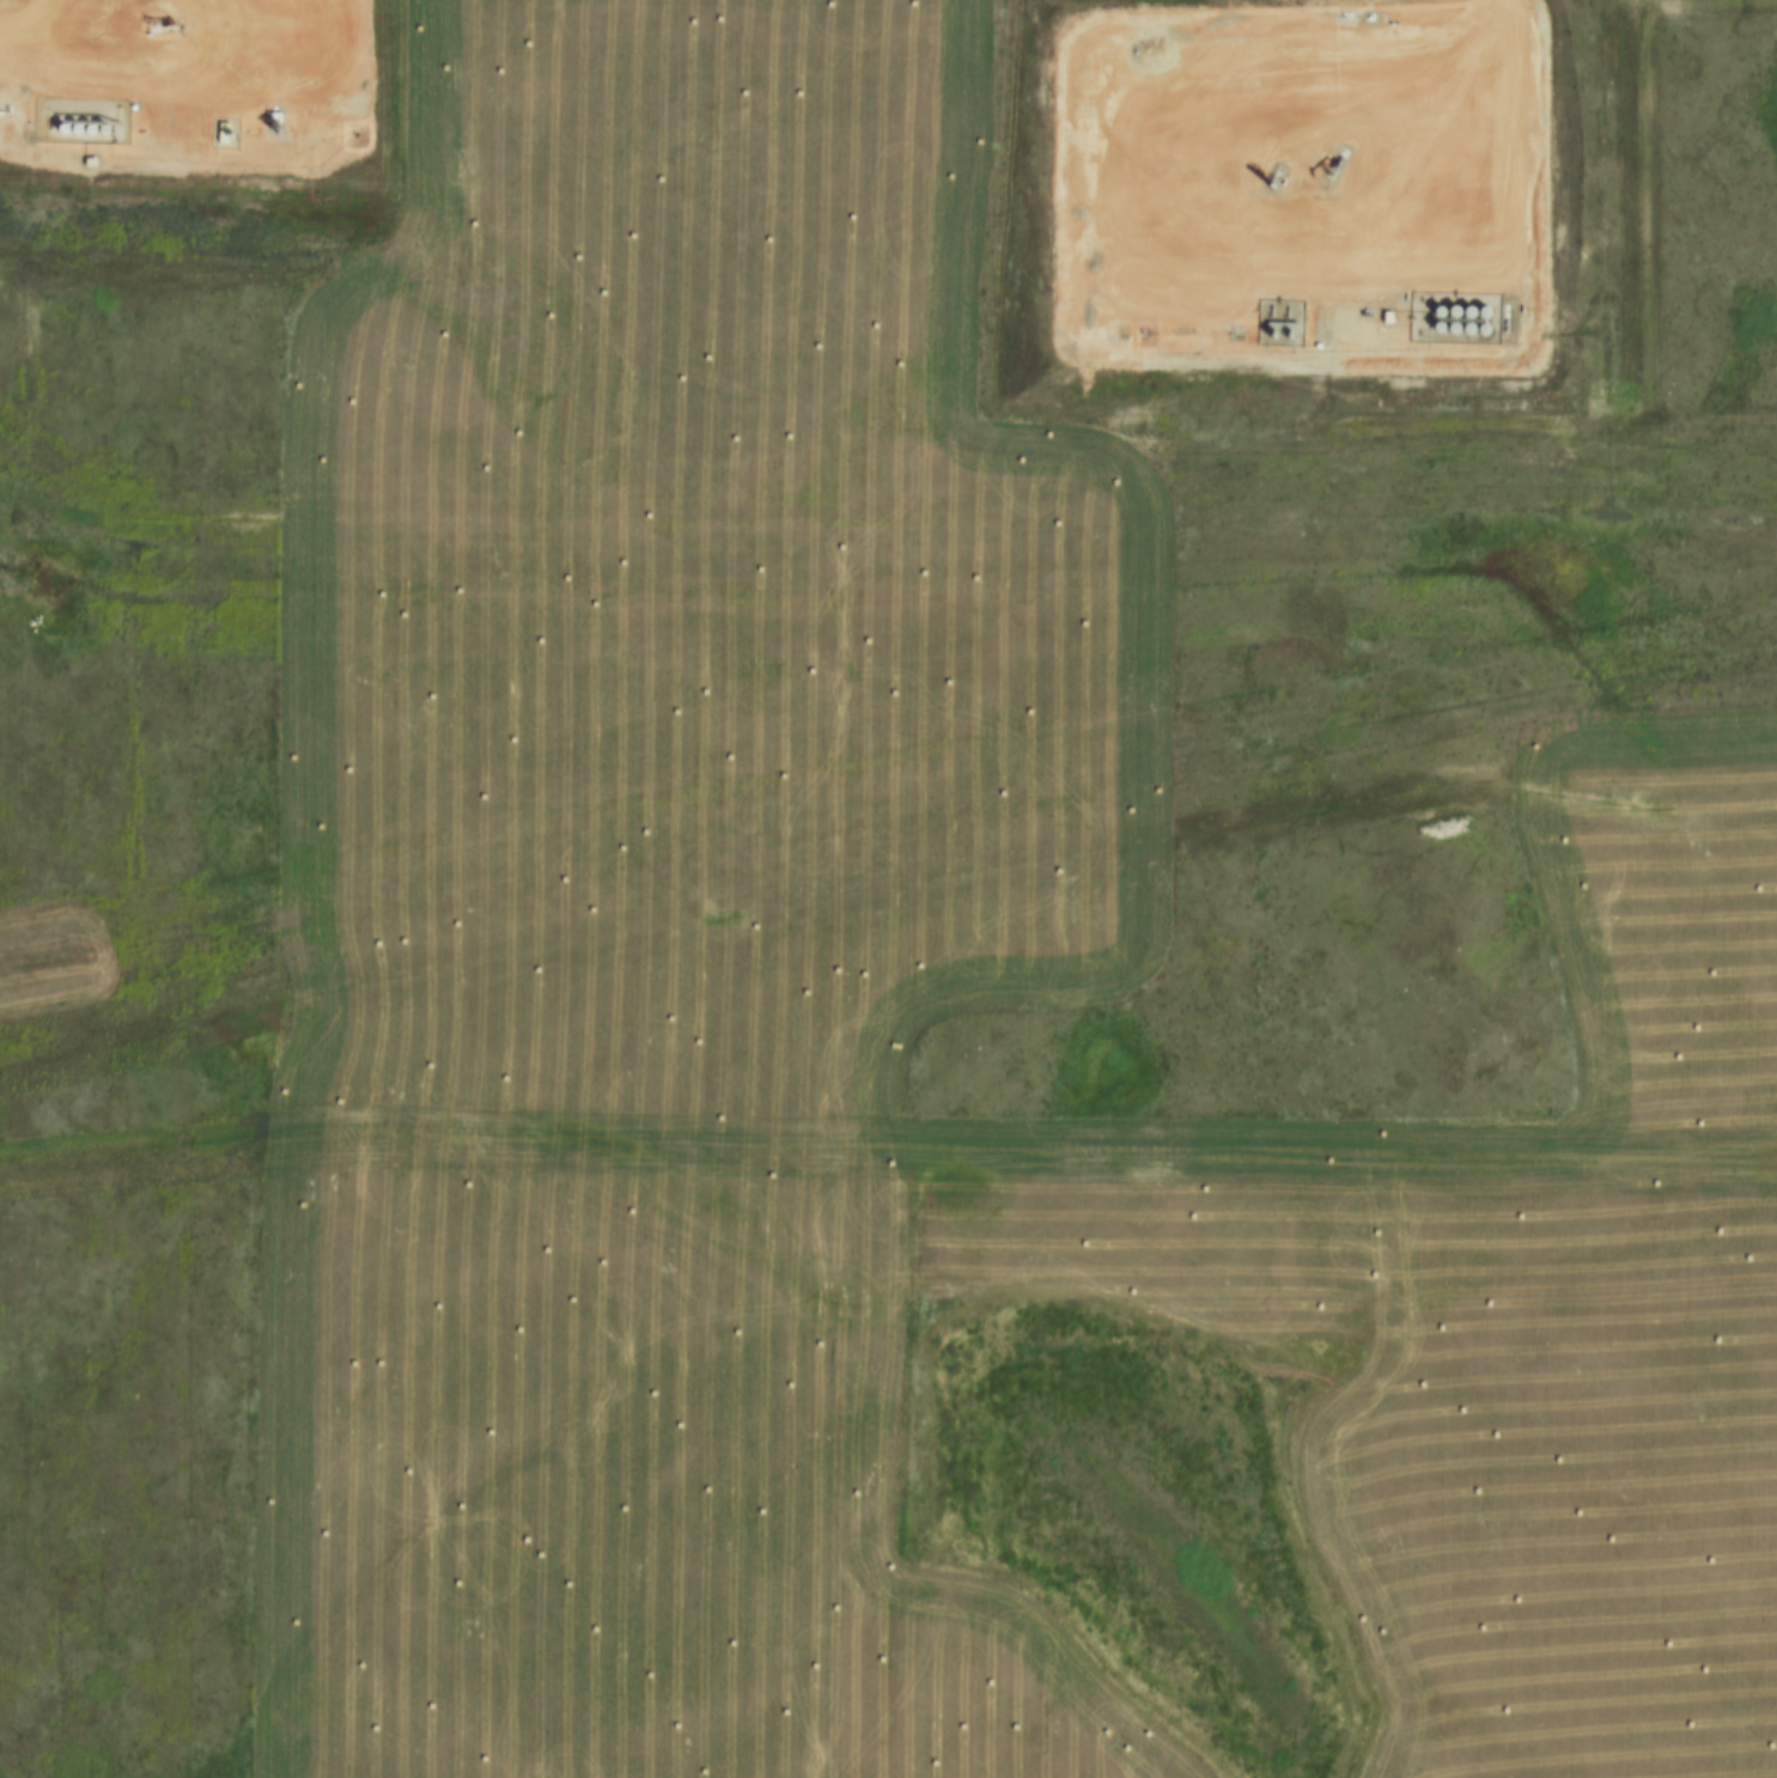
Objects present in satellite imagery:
road: (1505, 12)
road: (20, 14)
petroleum well: (156, 24)
road: (139, 89)
building: (221, 138)
building: (85, 162)
petroleum well: (1328, 168)
petroleum well: (1267, 178)
road: (1168, 272)
building: (1383, 316)
building: (1277, 328)
road: (893, 1460)

